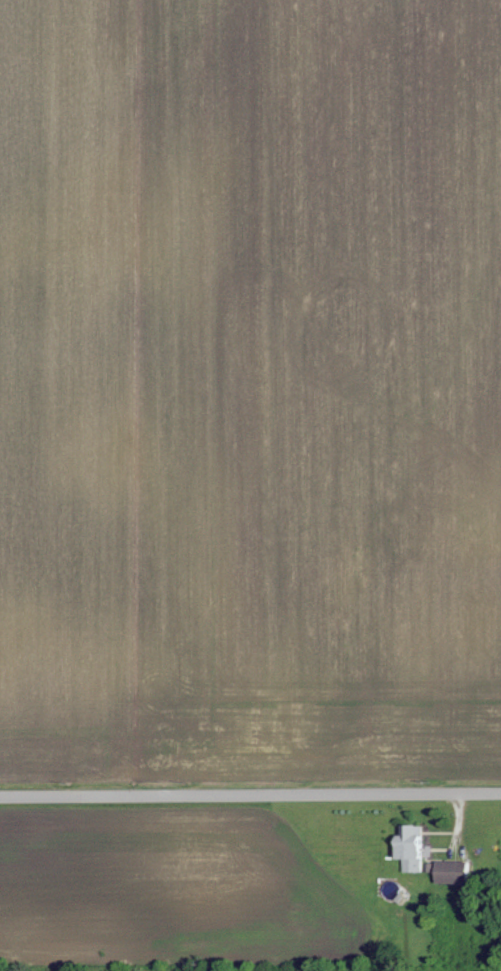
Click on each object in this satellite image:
road: (250, 795)
building: (417, 848)
building: (458, 872)

